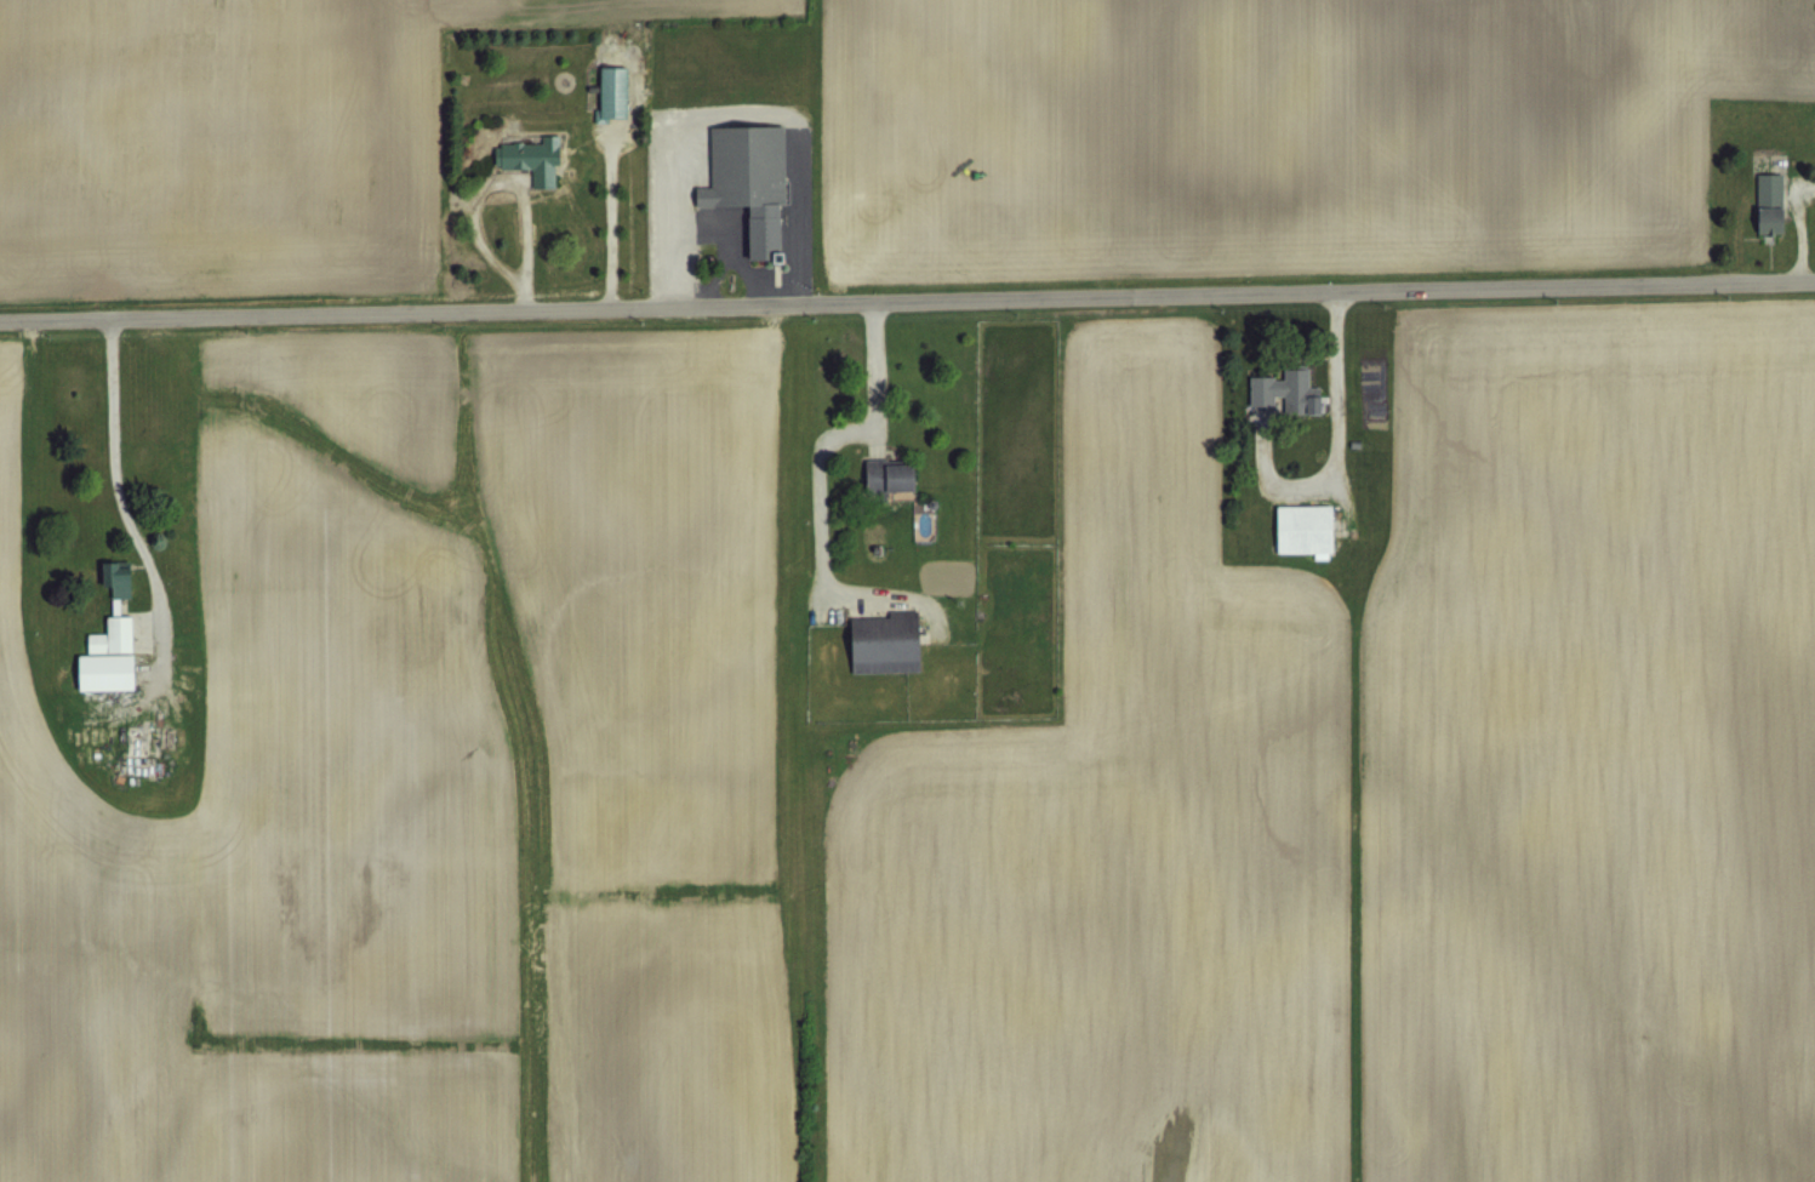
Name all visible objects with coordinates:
building: (611, 90)
building: (531, 158)
building: (747, 182)
building: (1768, 200)
road: (1793, 221)
road: (907, 296)
building: (1285, 389)
road: (1330, 432)
road: (110, 456)
road: (812, 463)
building: (886, 474)
building: (1301, 526)
building: (114, 576)
building: (110, 634)
building: (883, 641)
building: (131, 753)

